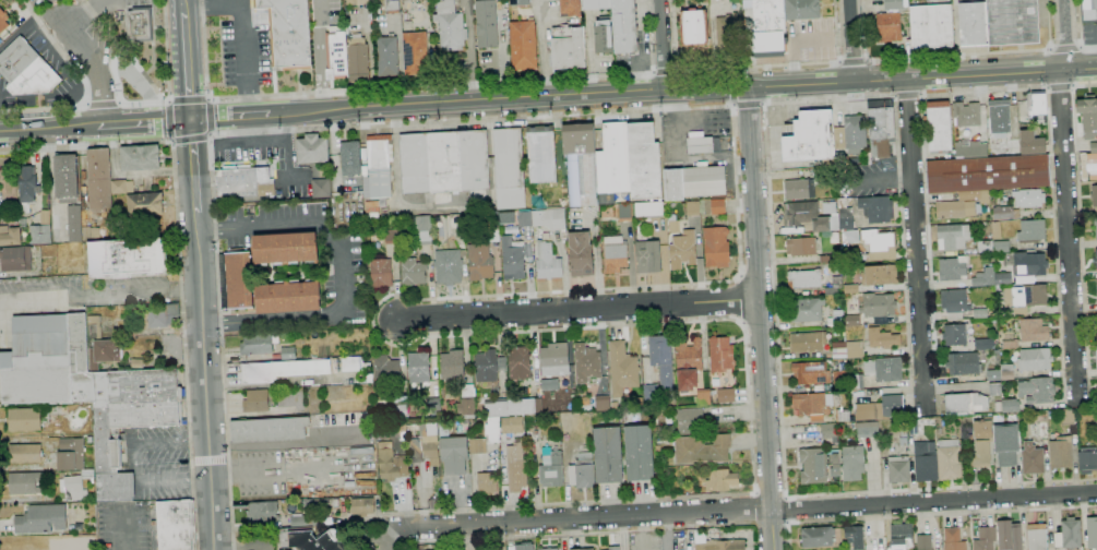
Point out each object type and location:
building: (350, 2)
building: (518, 2)
road: (183, 5)
building: (392, 7)
building: (571, 8)
building: (801, 9)
building: (1088, 10)
road: (84, 14)
building: (890, 21)
building: (1012, 22)
building: (486, 23)
building: (619, 23)
building: (140, 24)
building: (973, 24)
building: (5, 26)
building: (450, 26)
building: (768, 28)
building: (931, 28)
road: (242, 29)
building: (693, 29)
road: (1080, 31)
building: (288, 33)
building: (728, 34)
road: (1064, 35)
building: (604, 36)
road: (954, 38)
road: (800, 40)
road: (851, 40)
building: (523, 46)
road: (657, 46)
road: (1065, 47)
building: (568, 48)
building: (415, 53)
road: (321, 55)
building: (336, 56)
building: (386, 56)
road: (952, 56)
building: (16, 59)
building: (358, 60)
road: (851, 62)
road: (92, 63)
road: (187, 64)
road: (751, 67)
road: (665, 70)
road: (921, 77)
building: (35, 80)
road: (134, 80)
road: (83, 83)
road: (417, 85)
road: (908, 97)
road: (204, 98)
road: (535, 98)
road: (206, 99)
road: (169, 100)
road: (187, 100)
road: (119, 103)
road: (169, 103)
building: (1038, 103)
road: (83, 104)
road: (138, 104)
road: (102, 105)
road: (747, 107)
road: (296, 112)
building: (966, 113)
road: (208, 115)
building: (1088, 116)
road: (229, 117)
building: (999, 118)
road: (169, 119)
traffic signals: (190, 119)
road: (144, 122)
building: (939, 127)
road: (49, 128)
building: (880, 128)
road: (211, 132)
building: (850, 134)
road: (171, 137)
building: (808, 137)
road: (208, 139)
road: (191, 140)
road: (174, 141)
building: (702, 143)
building: (1030, 143)
building: (1093, 147)
building: (312, 148)
building: (970, 150)
building: (541, 154)
building: (840, 155)
building: (140, 157)
building: (350, 157)
building: (473, 160)
building: (444, 162)
building: (491, 162)
building: (643, 162)
building: (612, 163)
building: (415, 164)
building: (581, 164)
road: (193, 165)
building: (379, 167)
building: (510, 168)
building: (365, 170)
building: (987, 174)
building: (67, 178)
building: (99, 179)
building: (245, 182)
building: (704, 182)
building: (673, 184)
building: (121, 186)
building: (27, 187)
building: (141, 188)
building: (321, 188)
building: (799, 190)
building: (1094, 195)
building: (85, 199)
building: (1028, 199)
building: (144, 204)
building: (716, 206)
building: (372, 208)
building: (692, 208)
building: (648, 210)
building: (877, 210)
building: (953, 210)
road: (1053, 211)
building: (110, 213)
building: (624, 213)
building: (1004, 213)
building: (16, 214)
building: (845, 215)
building: (45, 216)
building: (809, 216)
building: (506, 217)
building: (23, 222)
building: (458, 222)
building: (74, 223)
building: (525, 224)
building: (672, 224)
road: (279, 225)
building: (492, 226)
building: (1095, 226)
road: (215, 228)
building: (424, 228)
road: (770, 230)
building: (995, 230)
building: (1032, 230)
building: (40, 234)
building: (91, 234)
building: (10, 236)
road: (1068, 236)
building: (392, 237)
building: (953, 237)
building: (377, 239)
building: (872, 244)
building: (453, 246)
building: (458, 246)
building: (800, 247)
road: (916, 247)
building: (985, 247)
building: (1000, 247)
building: (716, 248)
building: (285, 249)
building: (403, 250)
building: (431, 251)
building: (681, 251)
building: (580, 254)
building: (615, 254)
building: (431, 255)
building: (647, 256)
building: (128, 258)
building: (15, 259)
road: (178, 259)
building: (512, 259)
building: (547, 259)
building: (825, 259)
building: (1095, 260)
building: (480, 262)
building: (449, 266)
building: (1028, 267)
building: (952, 268)
building: (414, 272)
building: (382, 273)
building: (879, 275)
building: (983, 277)
building: (236, 278)
building: (804, 279)
building: (1002, 279)
building: (834, 286)
building: (997, 288)
building: (850, 289)
building: (1096, 289)
building: (288, 296)
road: (485, 296)
building: (1025, 298)
building: (954, 301)
building: (878, 306)
building: (806, 310)
road: (576, 311)
building: (979, 313)
building: (160, 315)
road: (329, 316)
road: (758, 318)
building: (836, 318)
building: (851, 321)
road: (220, 323)
building: (94, 327)
building: (1033, 331)
building: (954, 335)
building: (882, 338)
building: (807, 342)
building: (258, 344)
building: (983, 344)
building: (1007, 345)
building: (854, 349)
building: (838, 350)
building: (104, 352)
building: (288, 352)
building: (720, 355)
building: (1095, 356)
building: (1035, 359)
building: (553, 360)
building: (136, 363)
building: (518, 363)
building: (586, 363)
building: (688, 363)
building: (353, 364)
building: (964, 364)
building: (451, 366)
building: (488, 366)
building: (418, 367)
building: (659, 367)
building: (385, 368)
building: (622, 368)
building: (285, 369)
building: (883, 369)
building: (1006, 372)
building: (810, 373)
building: (839, 378)
road: (205, 381)
building: (855, 382)
building: (549, 384)
building: (86, 390)
building: (992, 390)
building: (1037, 391)
building: (723, 395)
building: (703, 397)
building: (258, 399)
building: (466, 402)
building: (595, 404)
building: (812, 404)
building: (965, 404)
building: (433, 405)
building: (1010, 406)
building: (880, 409)
building: (401, 410)
building: (843, 416)
building: (1068, 417)
building: (24, 419)
building: (511, 421)
building: (690, 421)
building: (1080, 423)
building: (1096, 426)
building: (913, 427)
building: (982, 428)
building: (270, 429)
building: (533, 430)
building: (867, 430)
building: (828, 431)
building: (903, 438)
building: (90, 439)
building: (419, 440)
building: (1006, 444)
building: (477, 445)
building: (702, 450)
building: (453, 452)
building: (25, 453)
building: (639, 453)
building: (1061, 453)
building: (71, 454)
building: (607, 454)
building: (979, 455)
road: (208, 459)
building: (1087, 459)
building: (949, 461)
road: (134, 462)
building: (387, 462)
building: (925, 462)
building: (1033, 462)
building: (852, 464)
building: (816, 465)
building: (515, 466)
building: (898, 469)
building: (551, 470)
building: (582, 471)
building: (722, 480)
building: (26, 482)
building: (486, 482)
building: (74, 487)
road: (770, 491)
building: (333, 503)
building: (92, 504)
building: (315, 504)
building: (362, 506)
road: (742, 509)
road: (788, 510)
building: (262, 513)
road: (929, 516)
building: (44, 518)
building: (303, 522)
building: (176, 525)
road: (120, 528)
road: (667, 531)
building: (1070, 533)
building: (1092, 533)
building: (902, 536)
building: (1009, 536)
building: (818, 537)
building: (854, 537)
building: (1036, 537)
road: (384, 538)
building: (308, 539)
building: (953, 539)
building: (985, 539)
building: (923, 542)
building: (720, 545)
building: (524, 546)
building: (613, 548)
building: (487, 549)
building: (548, 549)
building: (575, 549)

